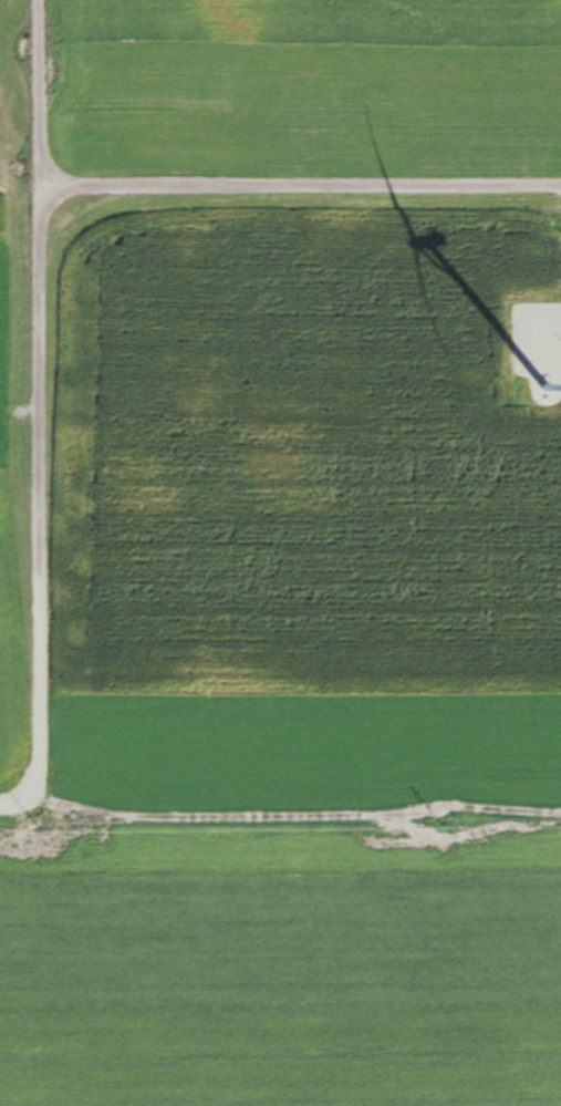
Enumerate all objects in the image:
road: (297, 193)
building: (527, 394)
wind turbine: (544, 394)
road: (33, 395)

